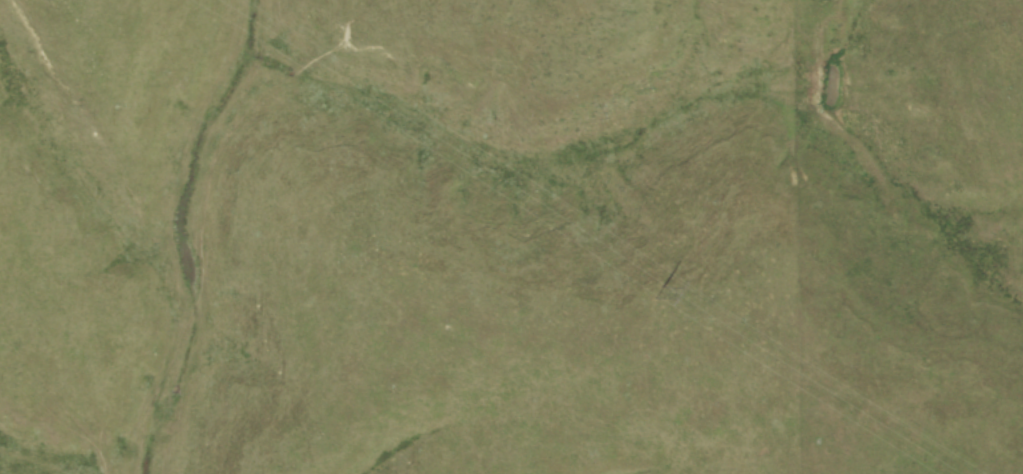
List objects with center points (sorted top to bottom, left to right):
power tower: (656, 293)

